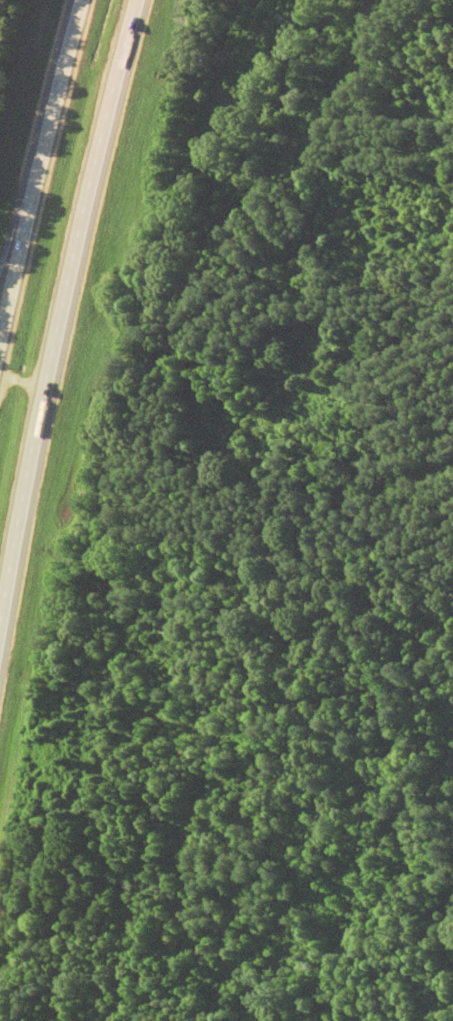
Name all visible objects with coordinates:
road: (36, 147)
road: (58, 294)

